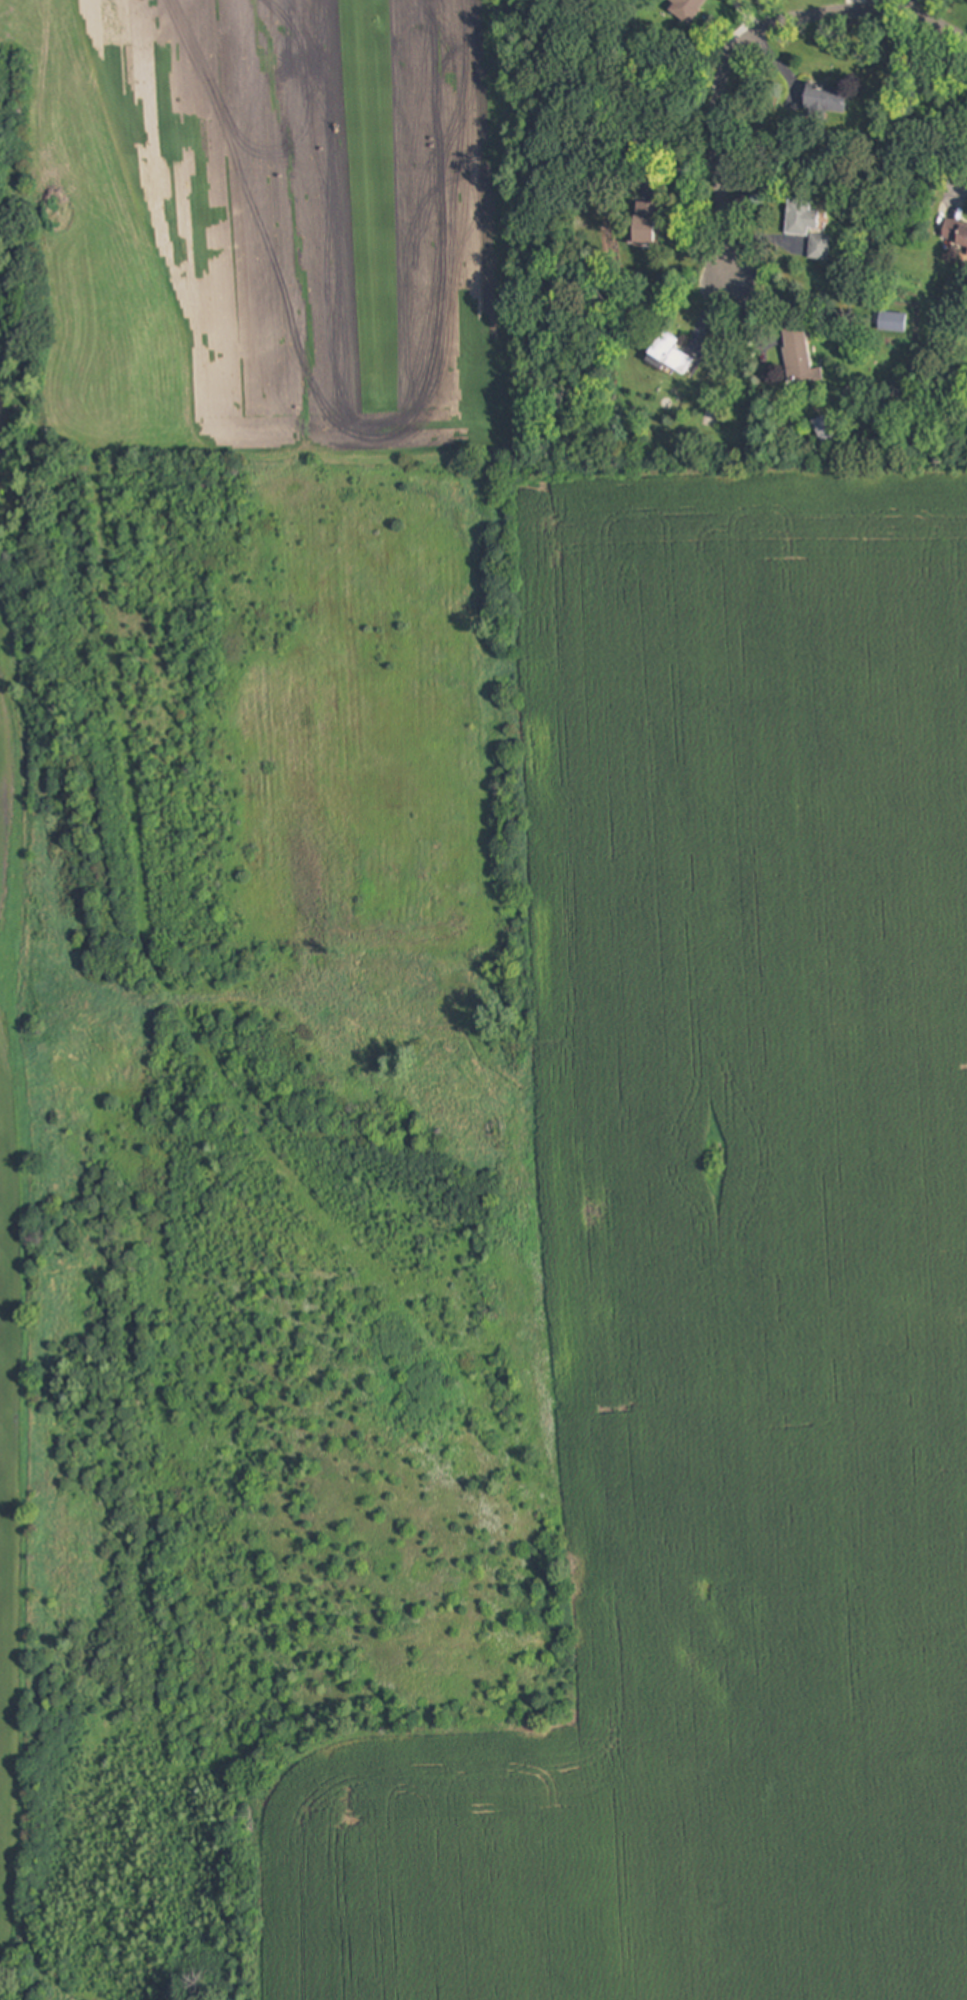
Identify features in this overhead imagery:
building: (688, 9)
road: (744, 45)
building: (825, 99)
road: (964, 189)
building: (801, 219)
building: (645, 227)
building: (954, 233)
building: (819, 248)
building: (892, 322)
building: (670, 355)
building: (798, 356)
building: (823, 430)

